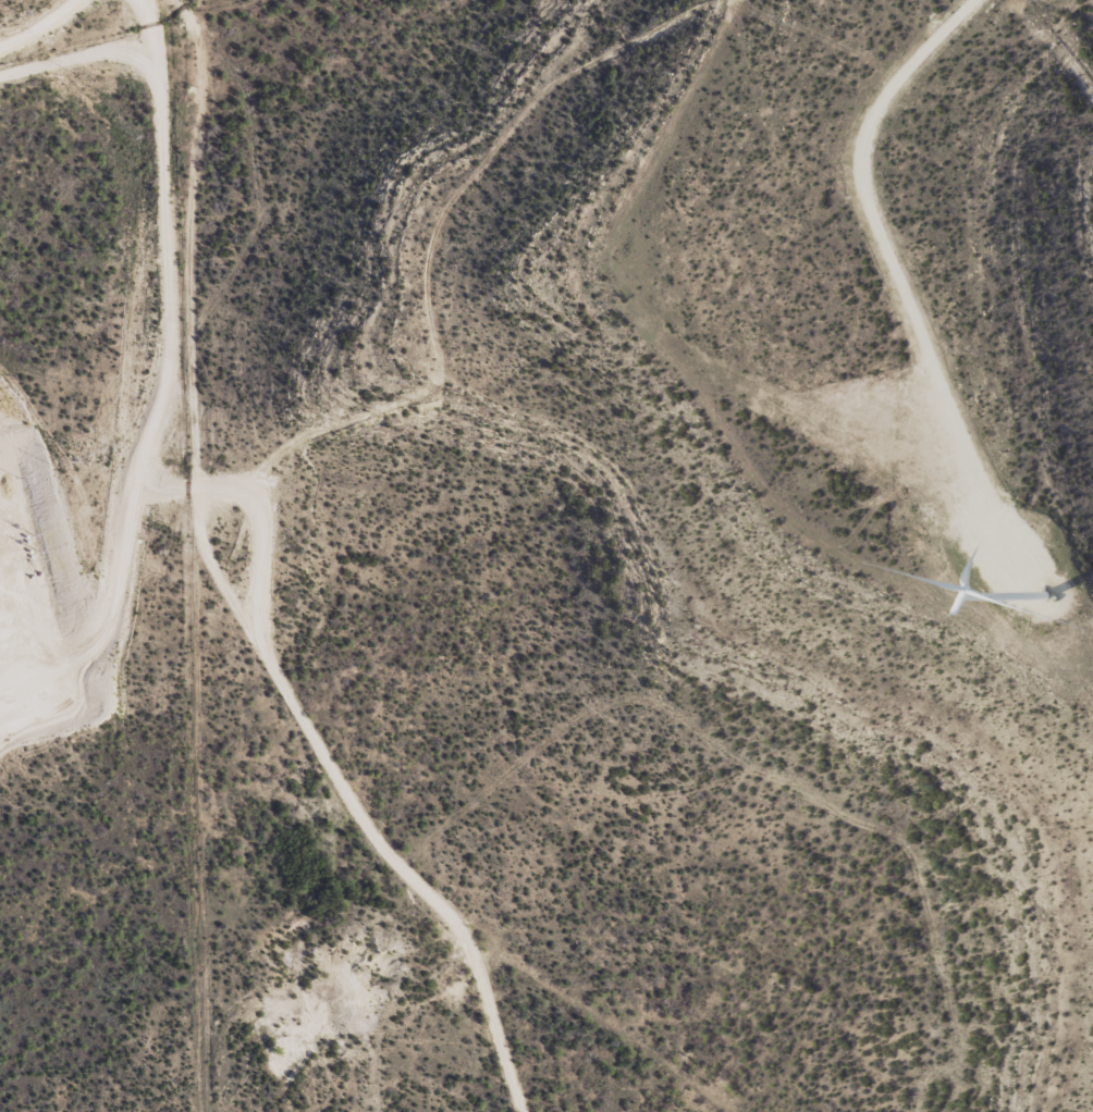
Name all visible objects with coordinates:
road: (5, 2)
road: (260, 453)
wind turbine: (1045, 595)
road: (357, 798)

